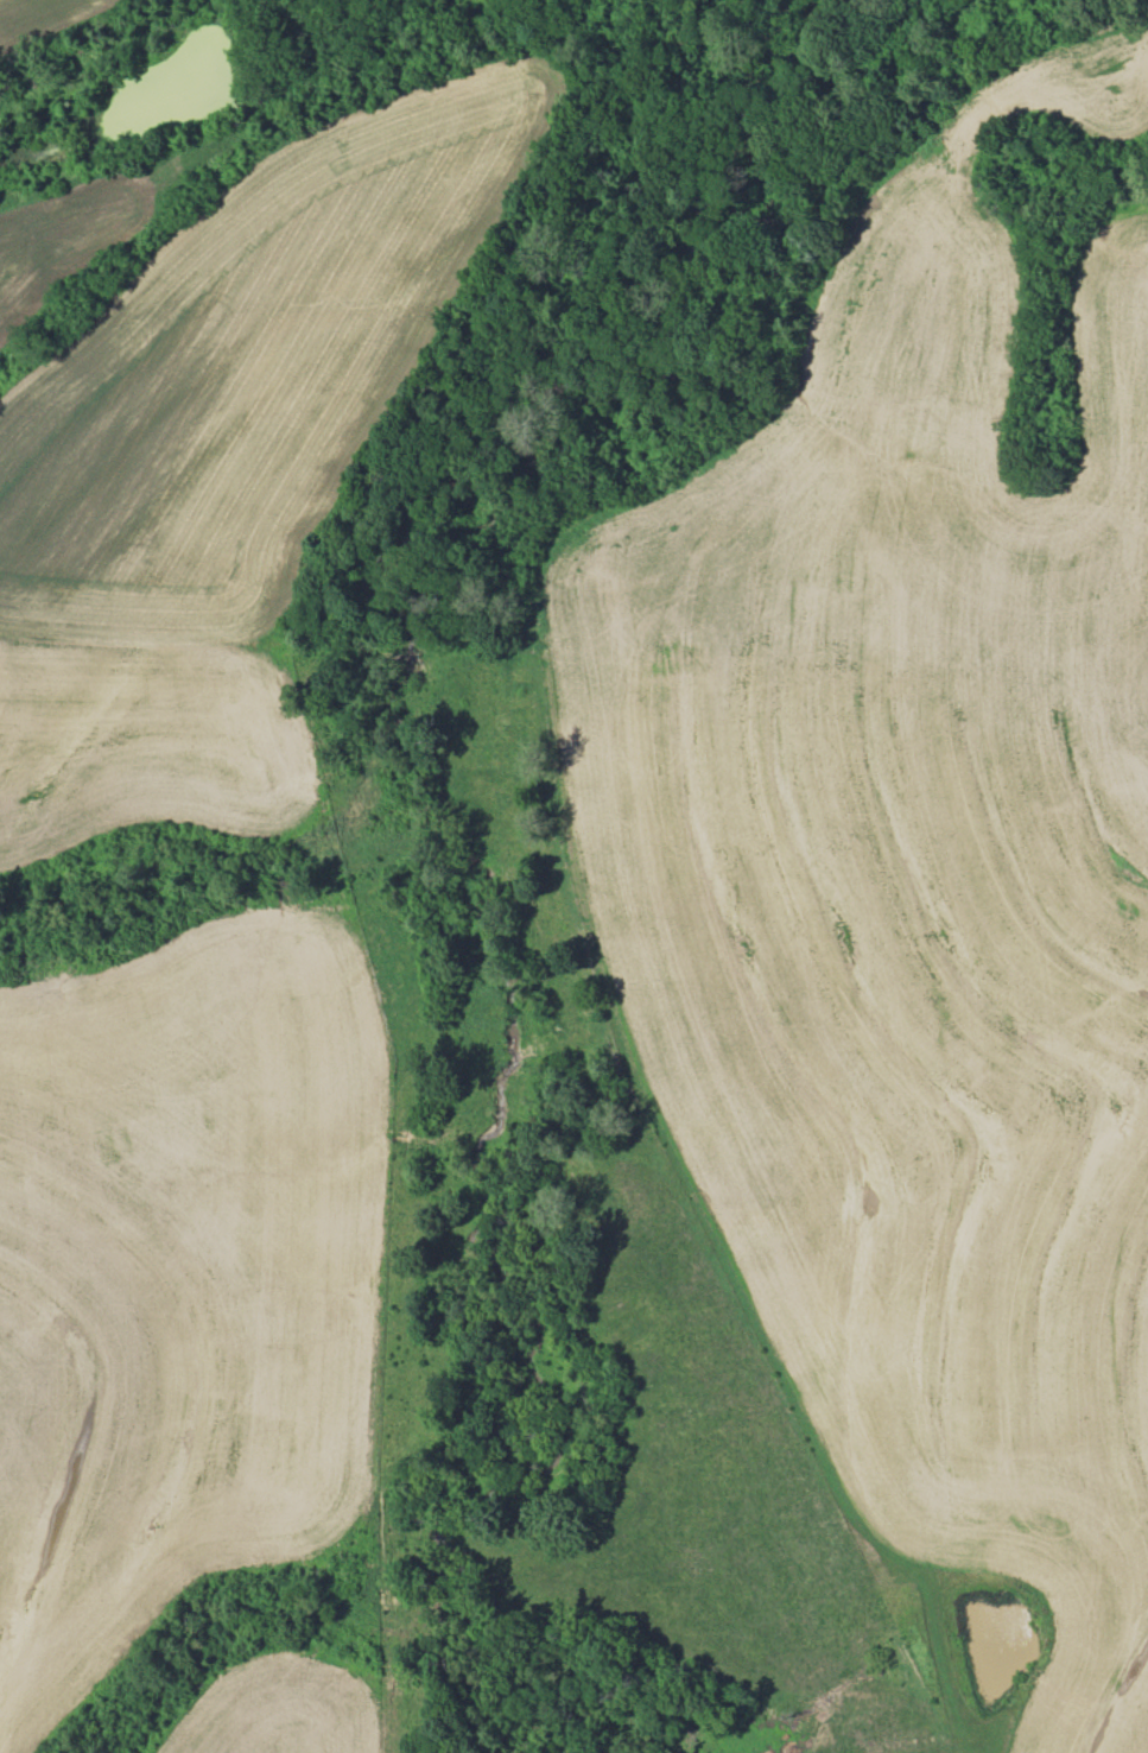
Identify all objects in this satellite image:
crop: (52, 18)
crop: (91, 235)
crop: (242, 382)
crop: (902, 451)
crop: (146, 748)
crop: (901, 1101)
crop: (186, 1273)
crop: (293, 1707)

